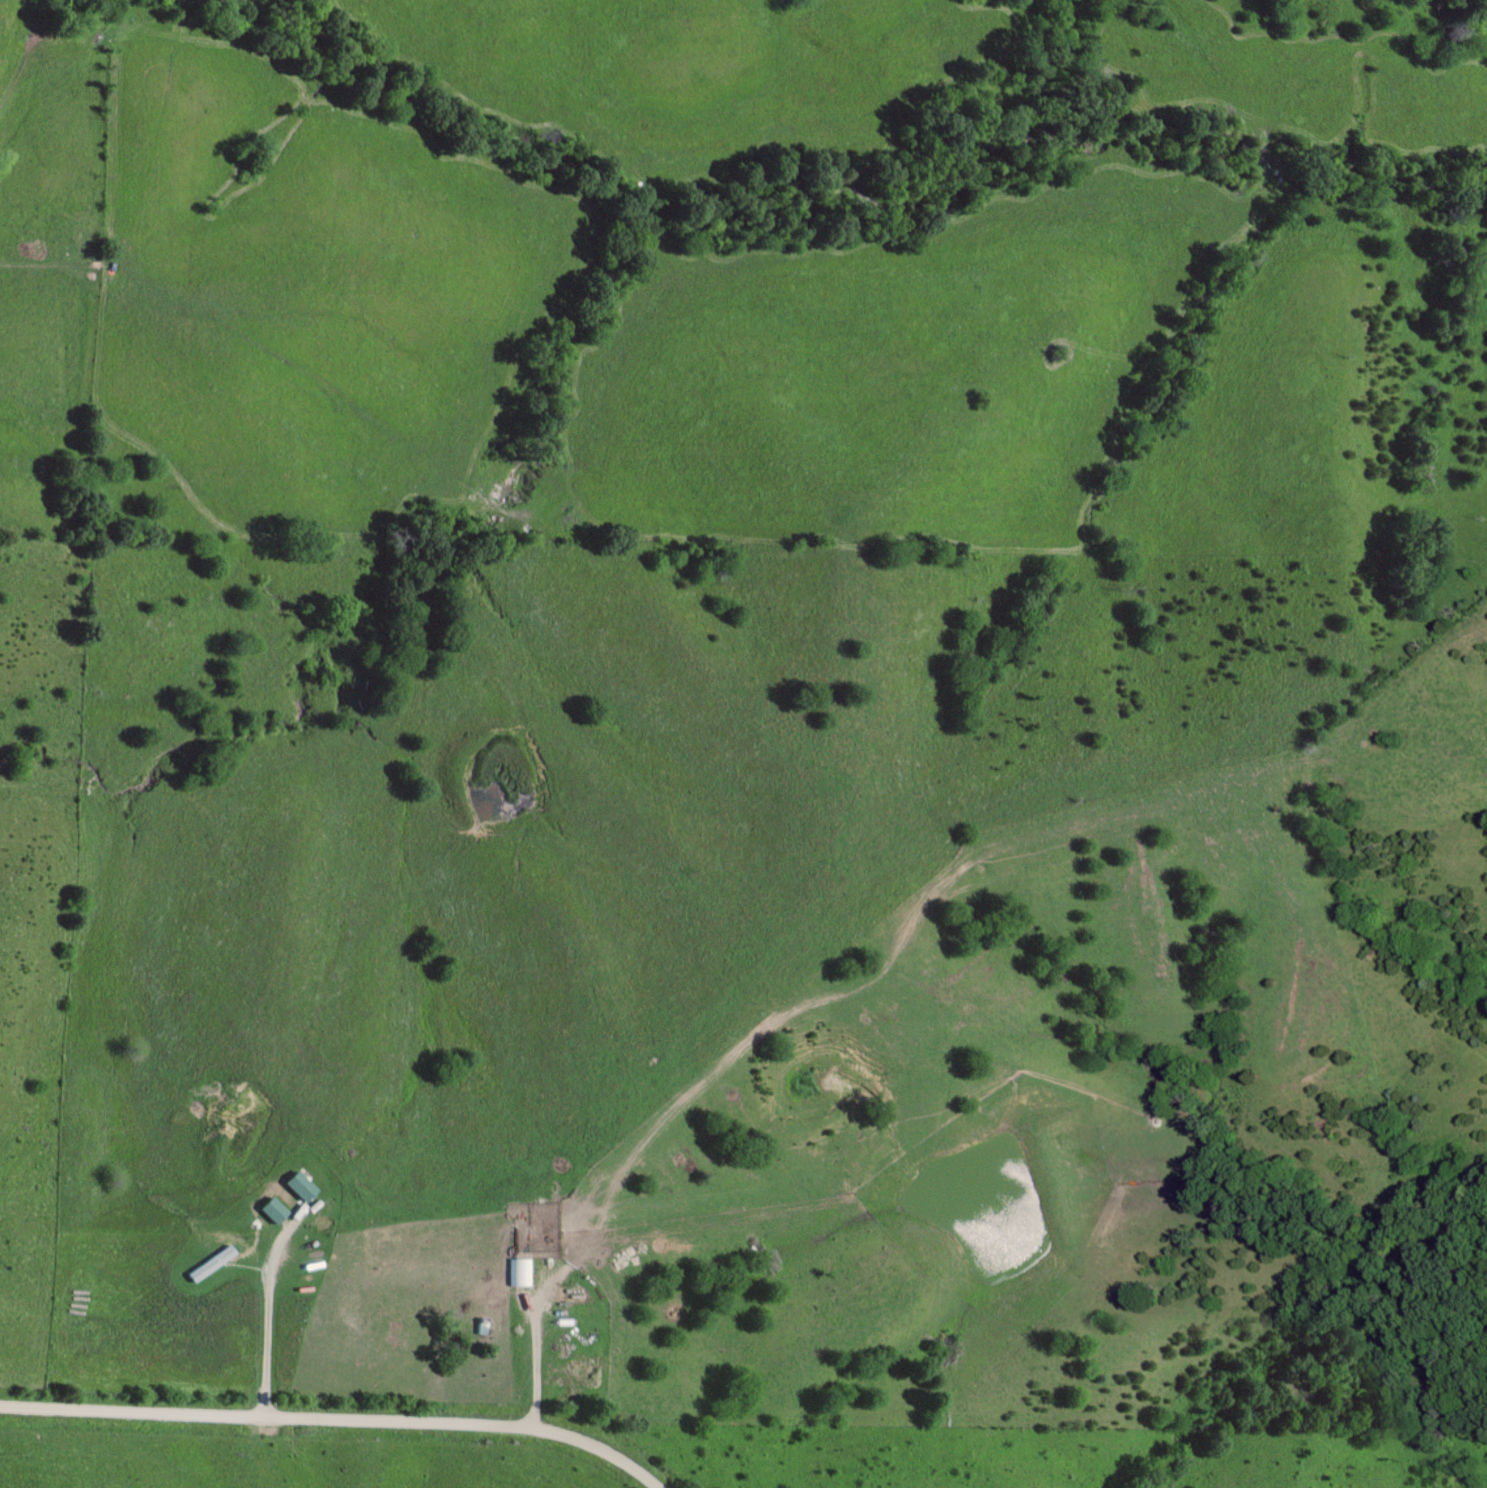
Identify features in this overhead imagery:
building: (517, 1272)
building: (460, 1294)
building: (567, 1372)
road: (337, 1422)

